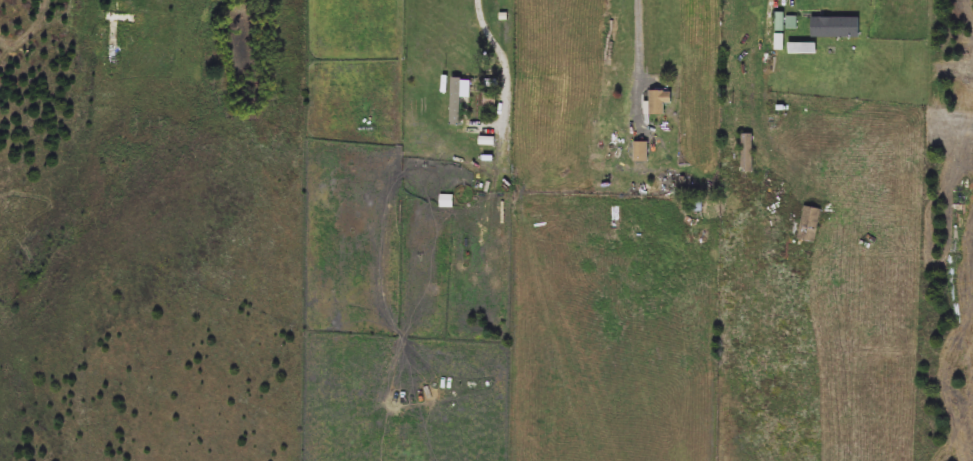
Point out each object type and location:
building: (123, 19)
building: (835, 28)
road: (505, 59)
road: (640, 65)
building: (484, 97)
building: (456, 101)
building: (659, 103)
building: (641, 153)
building: (748, 154)
building: (447, 202)
building: (697, 205)
building: (809, 225)

